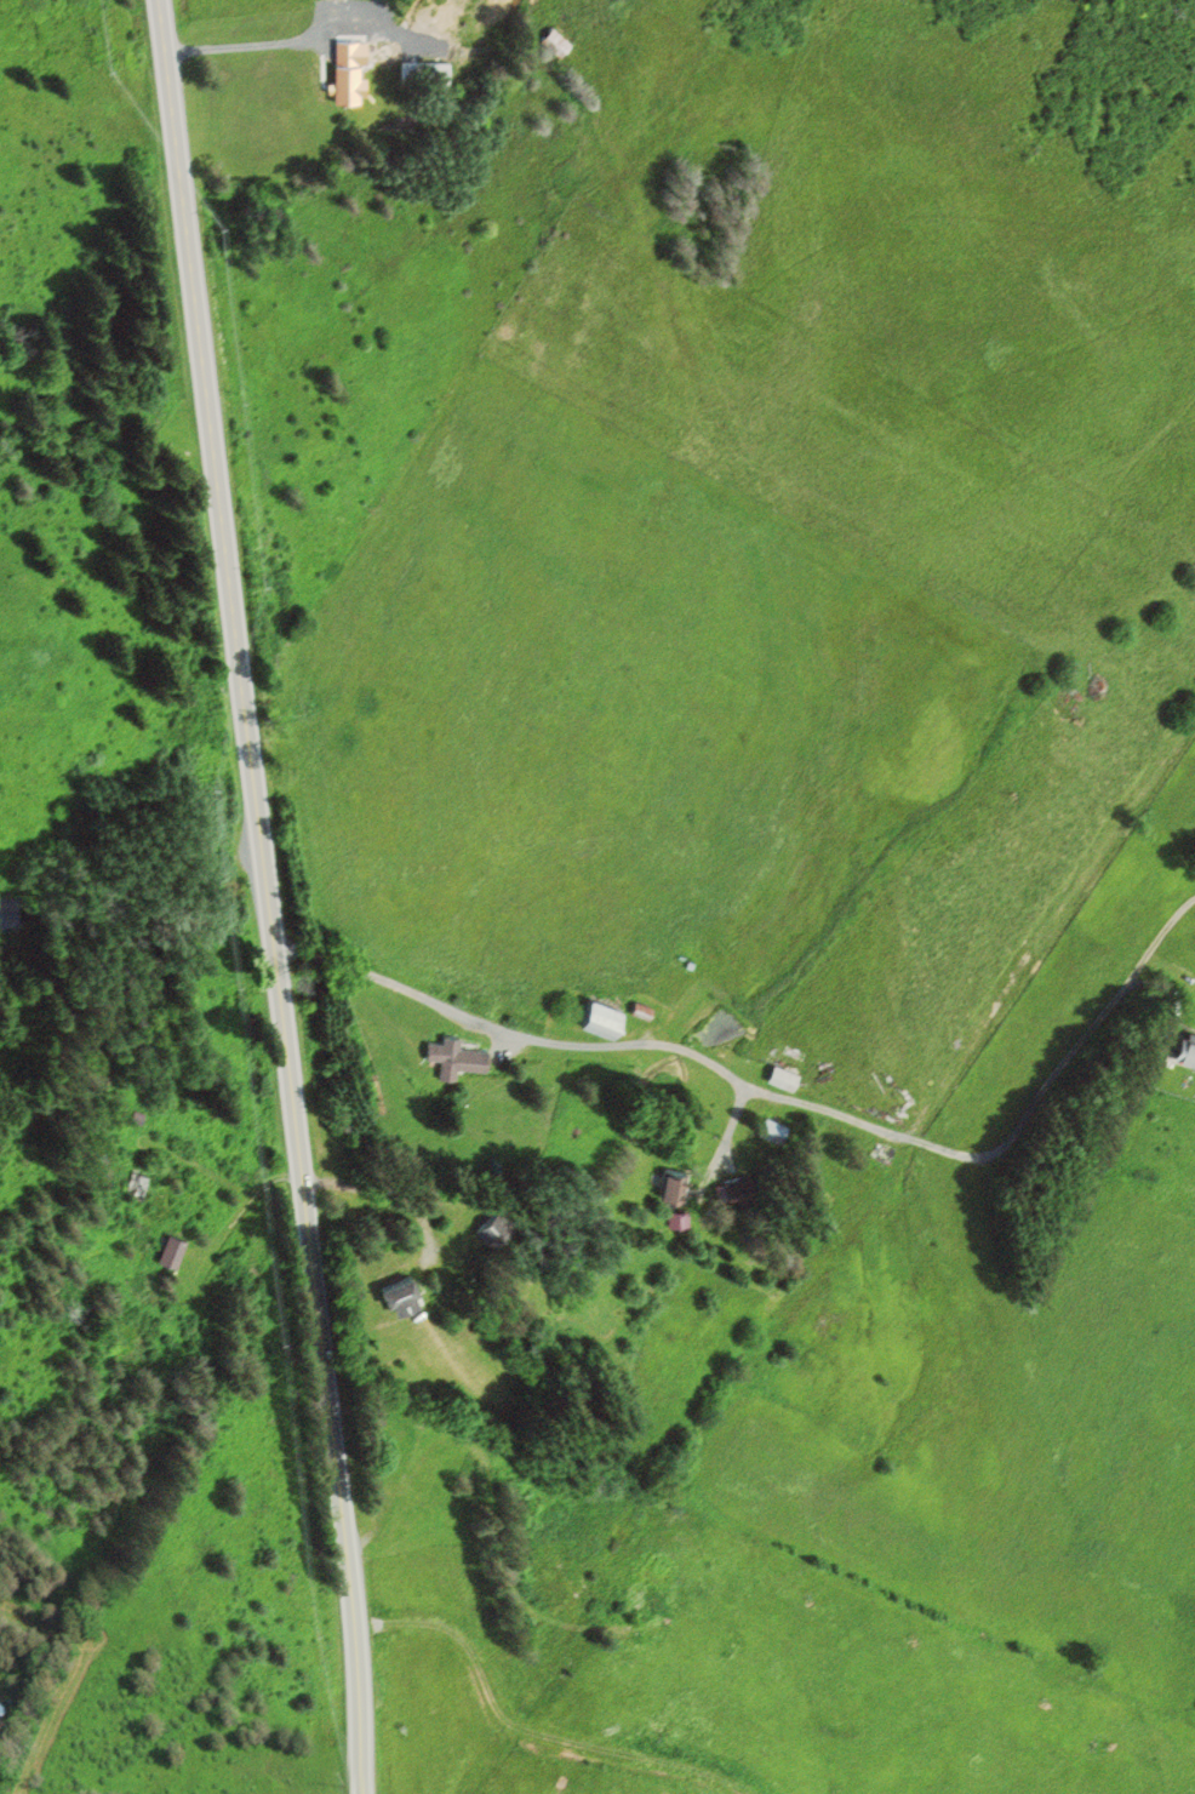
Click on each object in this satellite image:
building: (554, 41)
building: (347, 72)
road: (267, 896)
building: (639, 1011)
building: (601, 1019)
building: (1183, 1049)
building: (457, 1058)
building: (781, 1074)
building: (881, 1155)
building: (668, 1185)
building: (136, 1187)
building: (677, 1221)
building: (171, 1252)
building: (395, 1295)

